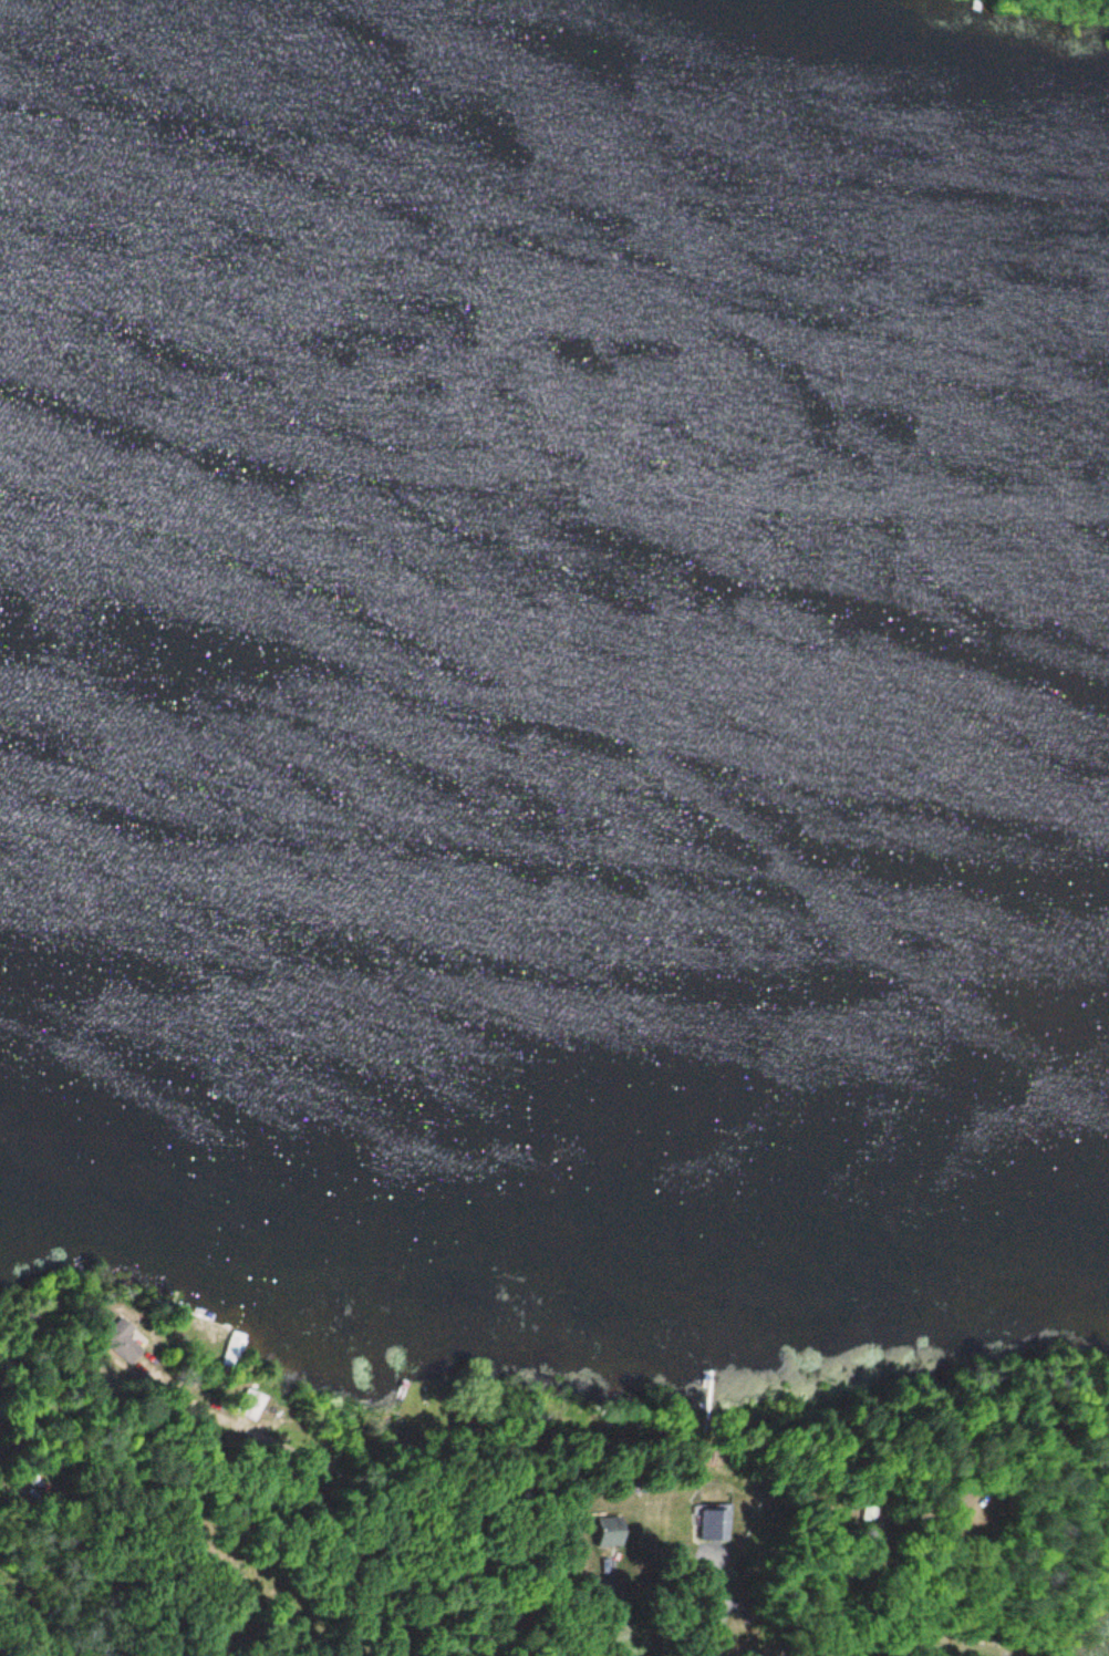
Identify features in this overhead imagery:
river: (538, 522)
building: (231, 1350)
building: (718, 1531)

